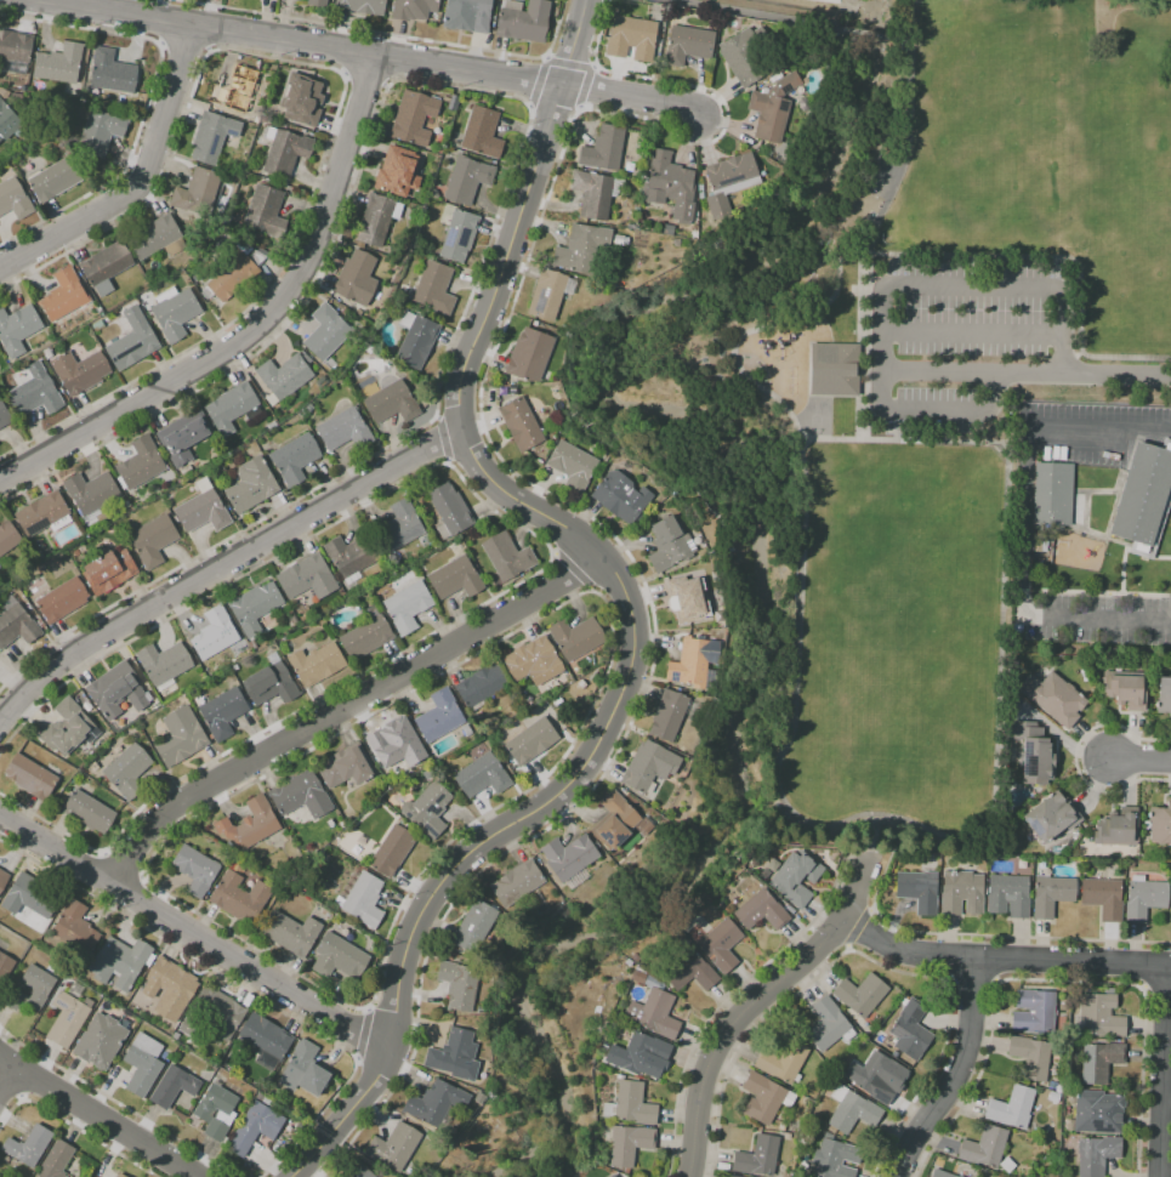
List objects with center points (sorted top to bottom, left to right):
building: (317, 2)
building: (360, 6)
building: (413, 8)
road: (751, 13)
building: (467, 15)
building: (524, 22)
road: (866, 33)
building: (632, 38)
road: (906, 40)
building: (687, 44)
road: (289, 45)
building: (17, 46)
building: (743, 57)
building: (63, 64)
building: (115, 73)
building: (238, 91)
road: (631, 96)
building: (302, 102)
building: (775, 109)
building: (416, 118)
building: (8, 121)
park: (999, 126)
building: (103, 132)
building: (484, 133)
building: (216, 137)
building: (607, 149)
road: (909, 150)
building: (289, 154)
building: (399, 174)
park: (879, 180)
building: (57, 181)
building: (470, 181)
building: (732, 183)
road: (143, 186)
building: (673, 186)
building: (201, 192)
building: (597, 195)
building: (15, 200)
building: (268, 212)
park: (1132, 212)
building: (377, 221)
building: (461, 235)
building: (161, 239)
building: (584, 246)
road: (1063, 256)
building: (110, 267)
building: (235, 277)
building: (357, 277)
building: (437, 289)
road: (951, 289)
building: (67, 296)
building: (550, 296)
building: (177, 313)
road: (757, 328)
road: (254, 329)
building: (19, 330)
road: (996, 332)
building: (329, 334)
building: (137, 341)
parking lot: (966, 341)
building: (420, 343)
building: (0, 351)
road: (1074, 353)
building: (532, 356)
road: (868, 359)
building: (83, 371)
building: (836, 373)
building: (286, 377)
road: (1027, 377)
building: (39, 396)
park: (944, 396)
building: (394, 404)
building: (234, 408)
road: (936, 413)
building: (5, 416)
park: (817, 417)
building: (523, 426)
building: (346, 431)
parking lot: (1088, 431)
building: (187, 437)
building: (296, 460)
building: (144, 464)
building: (575, 467)
building: (255, 487)
building: (95, 493)
building: (1055, 496)
building: (624, 497)
building: (1146, 500)
building: (453, 510)
building: (205, 512)
building: (45, 514)
road: (1023, 522)
building: (402, 529)
building: (10, 540)
building: (157, 541)
building: (670, 545)
building: (508, 557)
building: (353, 558)
road: (224, 568)
building: (112, 572)
building: (306, 576)
building: (457, 580)
building: (688, 595)
building: (66, 601)
road: (629, 603)
building: (257, 608)
building: (410, 608)
building: (18, 627)
building: (217, 635)
road: (1004, 635)
building: (369, 638)
building: (581, 638)
park: (897, 643)
road: (796, 659)
building: (538, 663)
building: (166, 664)
building: (319, 665)
building: (697, 665)
building: (274, 686)
building: (487, 687)
building: (1129, 690)
building: (120, 692)
building: (1058, 698)
building: (1165, 698)
road: (345, 711)
building: (226, 713)
building: (442, 717)
building: (671, 717)
building: (70, 728)
building: (183, 738)
building: (534, 743)
building: (394, 745)
building: (1036, 755)
road: (1139, 758)
building: (351, 768)
building: (650, 768)
building: (129, 771)
building: (484, 777)
building: (34, 778)
building: (305, 796)
building: (430, 811)
building: (92, 813)
building: (1055, 818)
building: (618, 821)
building: (254, 824)
building: (1161, 825)
building: (1120, 829)
road: (892, 847)
building: (394, 853)
building: (572, 858)
building: (199, 870)
building: (798, 877)
building: (4, 879)
building: (519, 885)
road: (852, 891)
building: (921, 892)
building: (965, 894)
building: (1053, 895)
building: (1011, 897)
building: (34, 898)
building: (243, 898)
building: (1105, 899)
building: (1147, 900)
building: (366, 902)
building: (763, 912)
building: (81, 928)
building: (477, 928)
building: (294, 934)
road: (193, 937)
building: (723, 944)
road: (1000, 959)
building: (342, 960)
building: (124, 962)
building: (6, 968)
building: (694, 973)
building: (641, 978)
building: (171, 982)
building: (461, 985)
building: (44, 988)
building: (863, 995)
building: (655, 1013)
building: (1036, 1013)
building: (216, 1016)
building: (1102, 1017)
building: (70, 1020)
building: (830, 1025)
building: (914, 1033)
road: (724, 1035)
building: (269, 1037)
building: (103, 1042)
building: (453, 1051)
building: (644, 1052)
building: (1034, 1057)
building: (785, 1062)
building: (1103, 1062)
building: (146, 1064)
road: (944, 1068)
road: (1160, 1070)
building: (308, 1071)
building: (877, 1080)
road: (12, 1082)
building: (176, 1087)
building: (764, 1099)
building: (438, 1103)
building: (635, 1103)
building: (1014, 1109)
building: (1101, 1113)
building: (205, 1114)
building: (857, 1114)
road: (95, 1118)
building: (257, 1128)
building: (631, 1144)
building: (397, 1145)
building: (32, 1147)
building: (987, 1147)
building: (757, 1155)
building: (1099, 1155)
building: (834, 1159)
building: (59, 1160)
building: (356, 1170)
building: (943, 1175)
building: (123, 1176)
building: (612, 1176)
building: (732, 1176)

